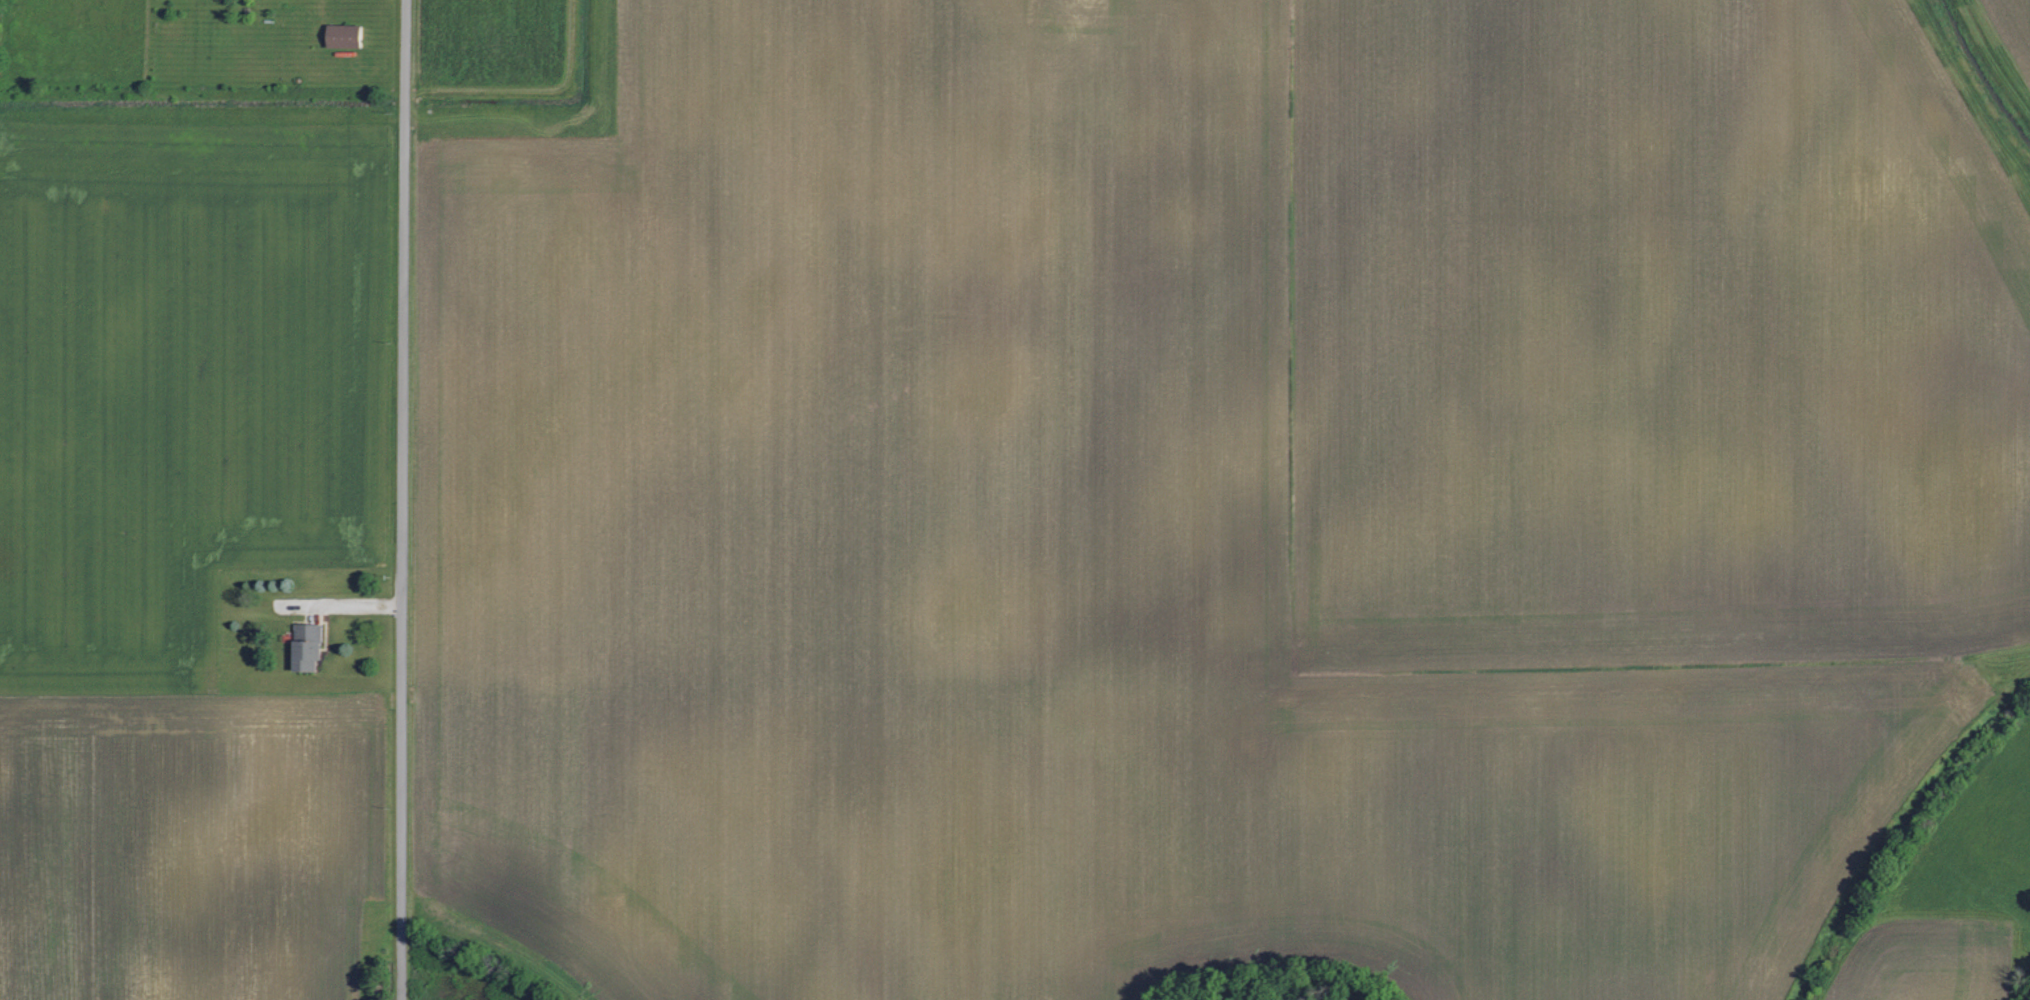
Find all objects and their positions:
building: (341, 35)
road: (403, 500)
building: (305, 647)

